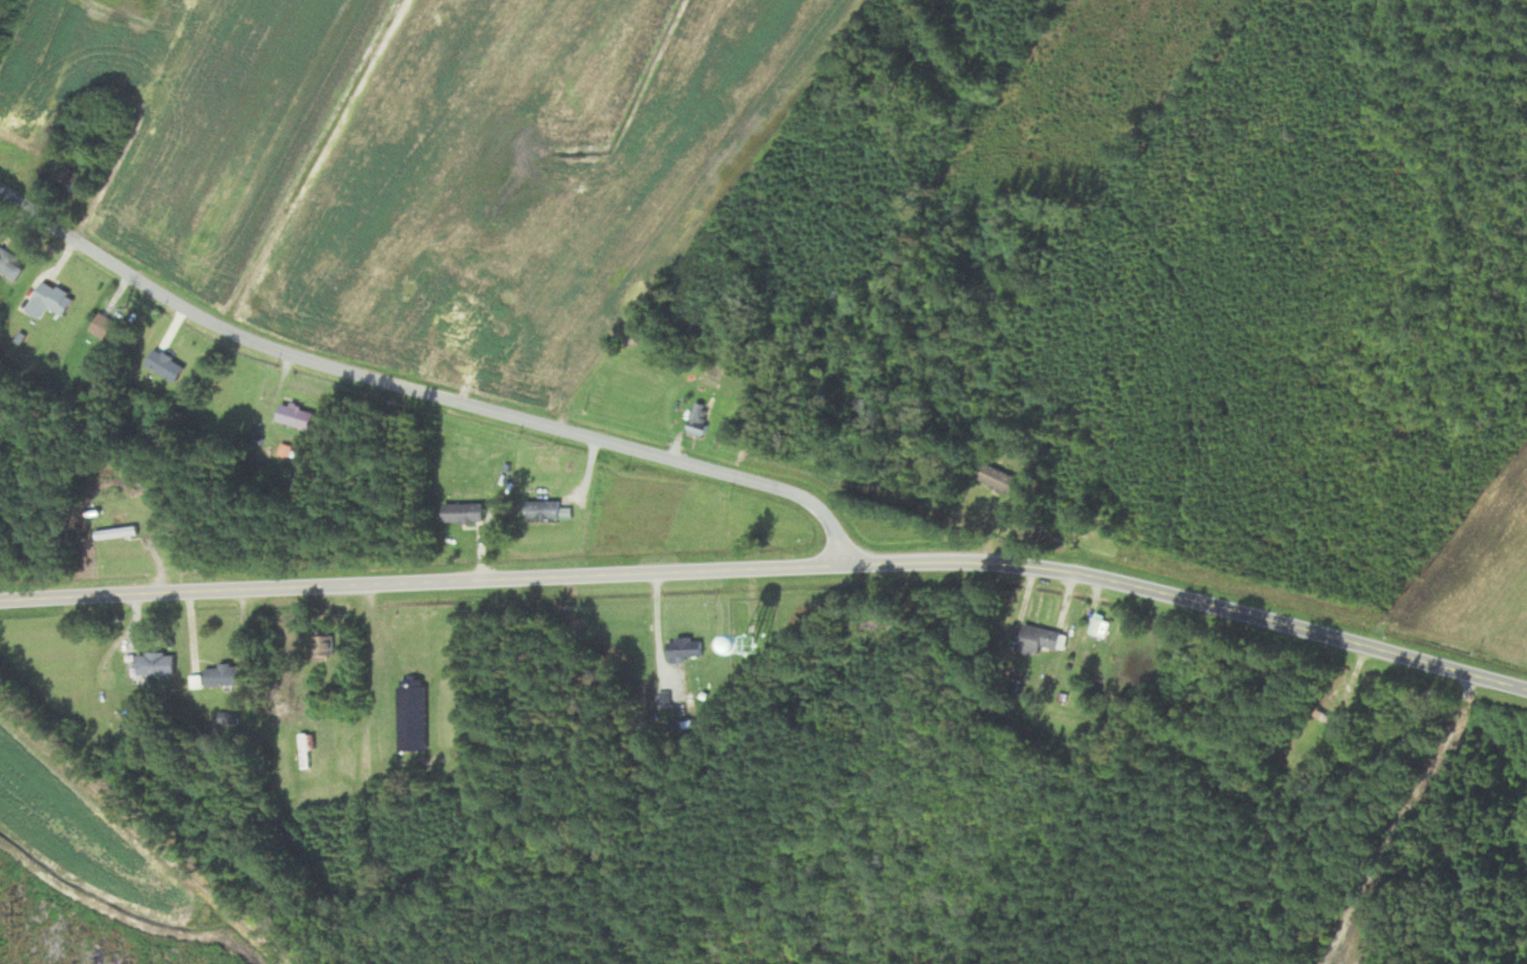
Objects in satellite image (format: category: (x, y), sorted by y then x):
building: (8, 270)
building: (45, 301)
building: (105, 329)
building: (163, 366)
road: (428, 392)
building: (292, 419)
building: (696, 419)
building: (994, 481)
building: (540, 510)
building: (461, 514)
building: (114, 534)
road: (427, 581)
road: (1196, 591)
building: (1098, 626)
building: (1039, 641)
building: (321, 648)
building: (683, 648)
building: (154, 664)
building: (221, 676)
building: (67, 678)
building: (410, 714)
building: (304, 750)

